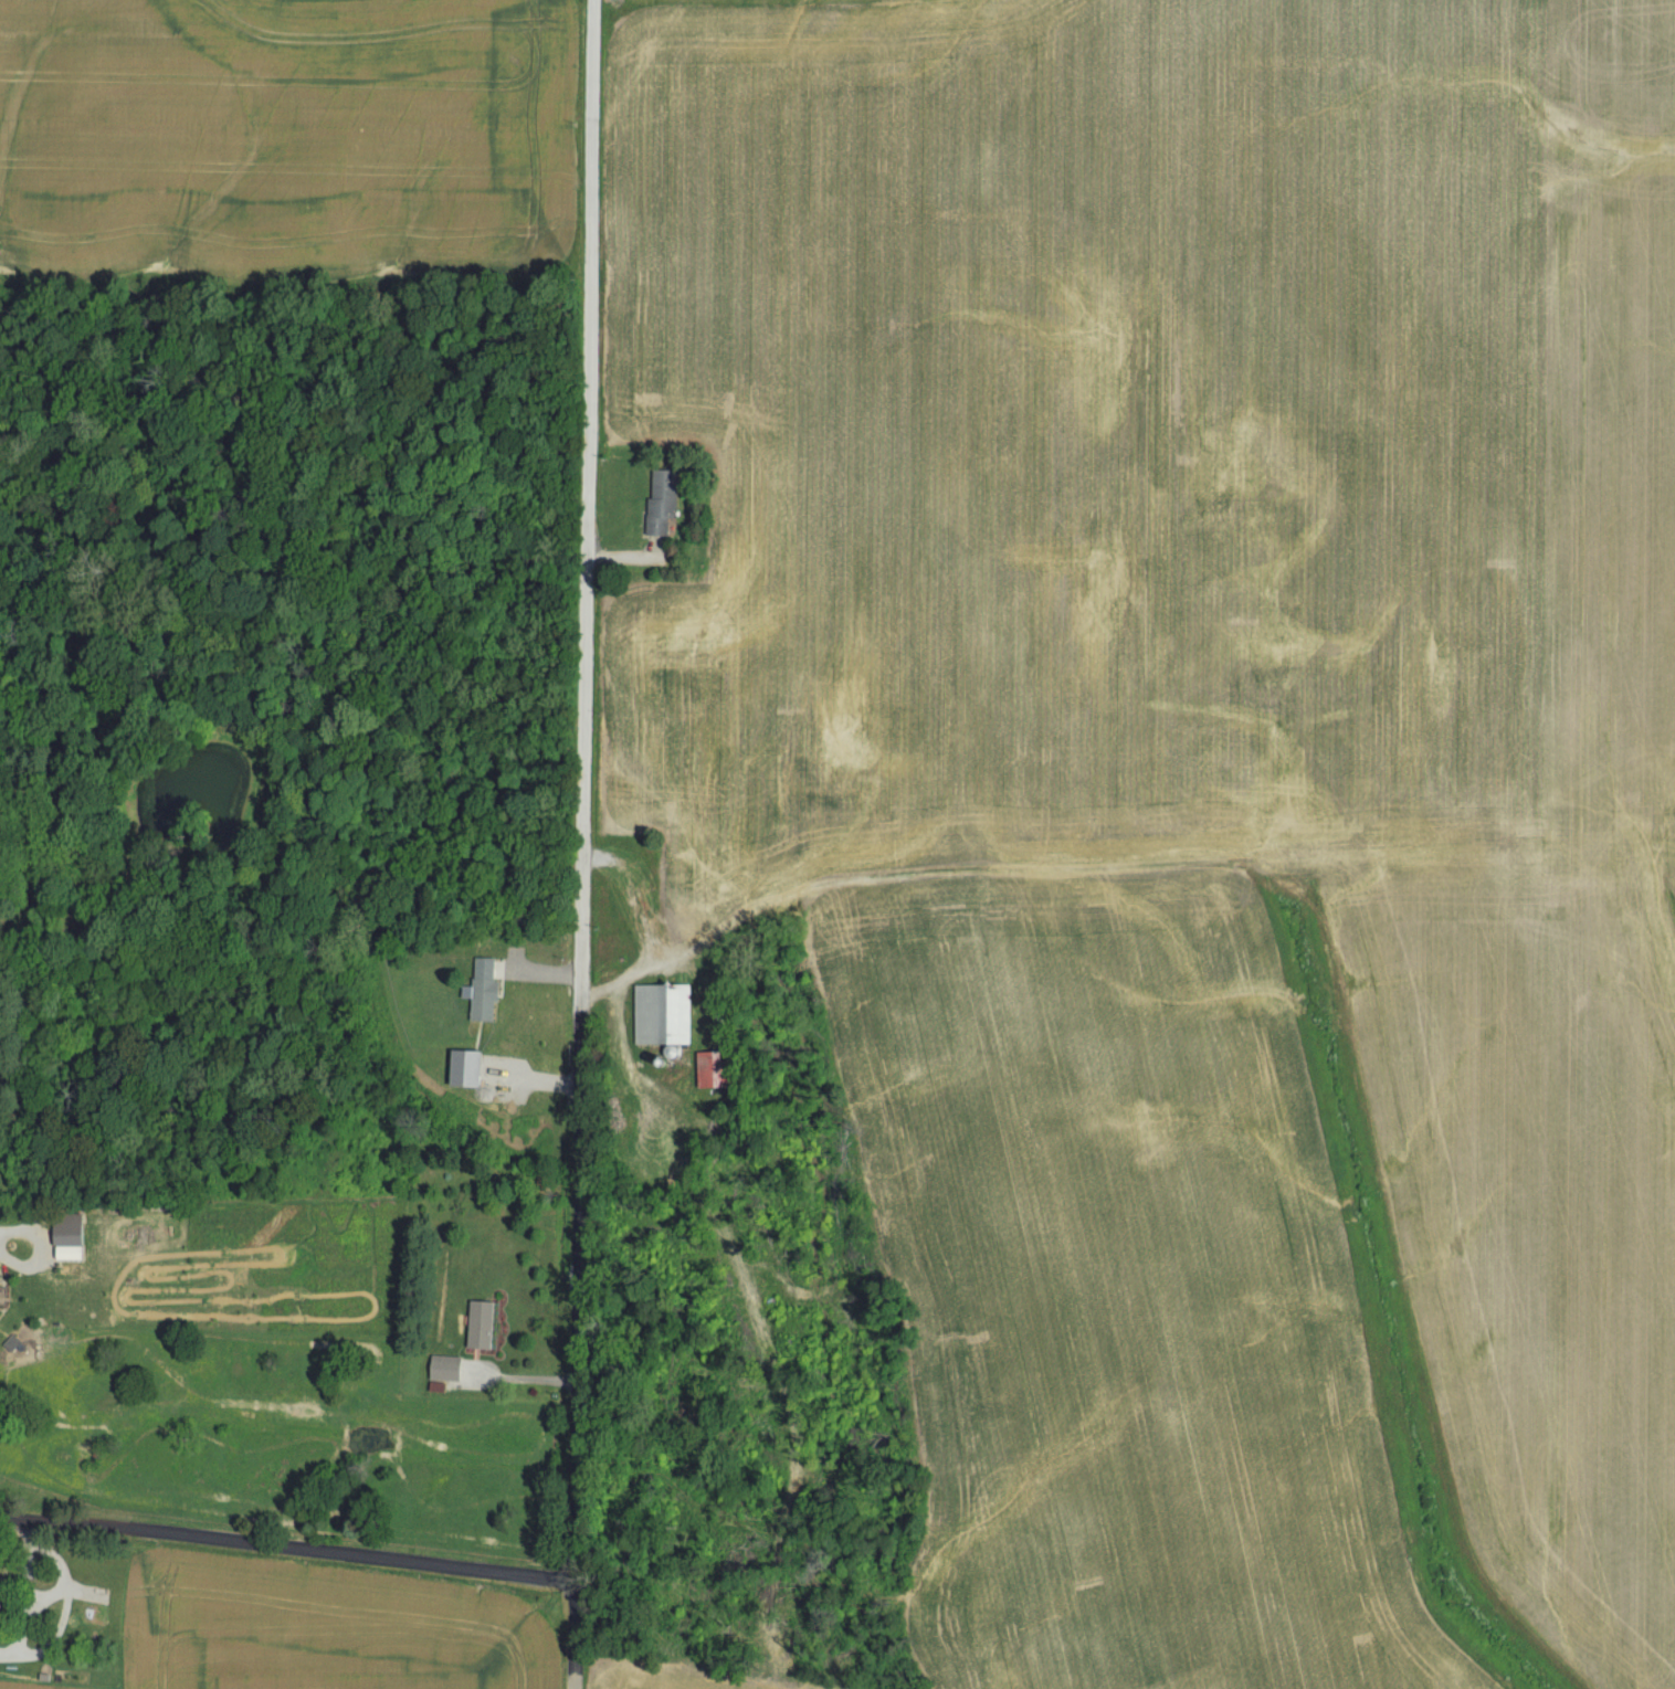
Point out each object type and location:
building: (661, 502)
road: (572, 801)
building: (499, 950)
road: (529, 967)
road: (615, 975)
building: (482, 1002)
building: (662, 1016)
building: (425, 1067)
building: (704, 1072)
building: (66, 1237)
building: (478, 1327)
building: (442, 1371)
road: (507, 1373)
road: (281, 1547)
road: (56, 1581)
road: (568, 1638)

